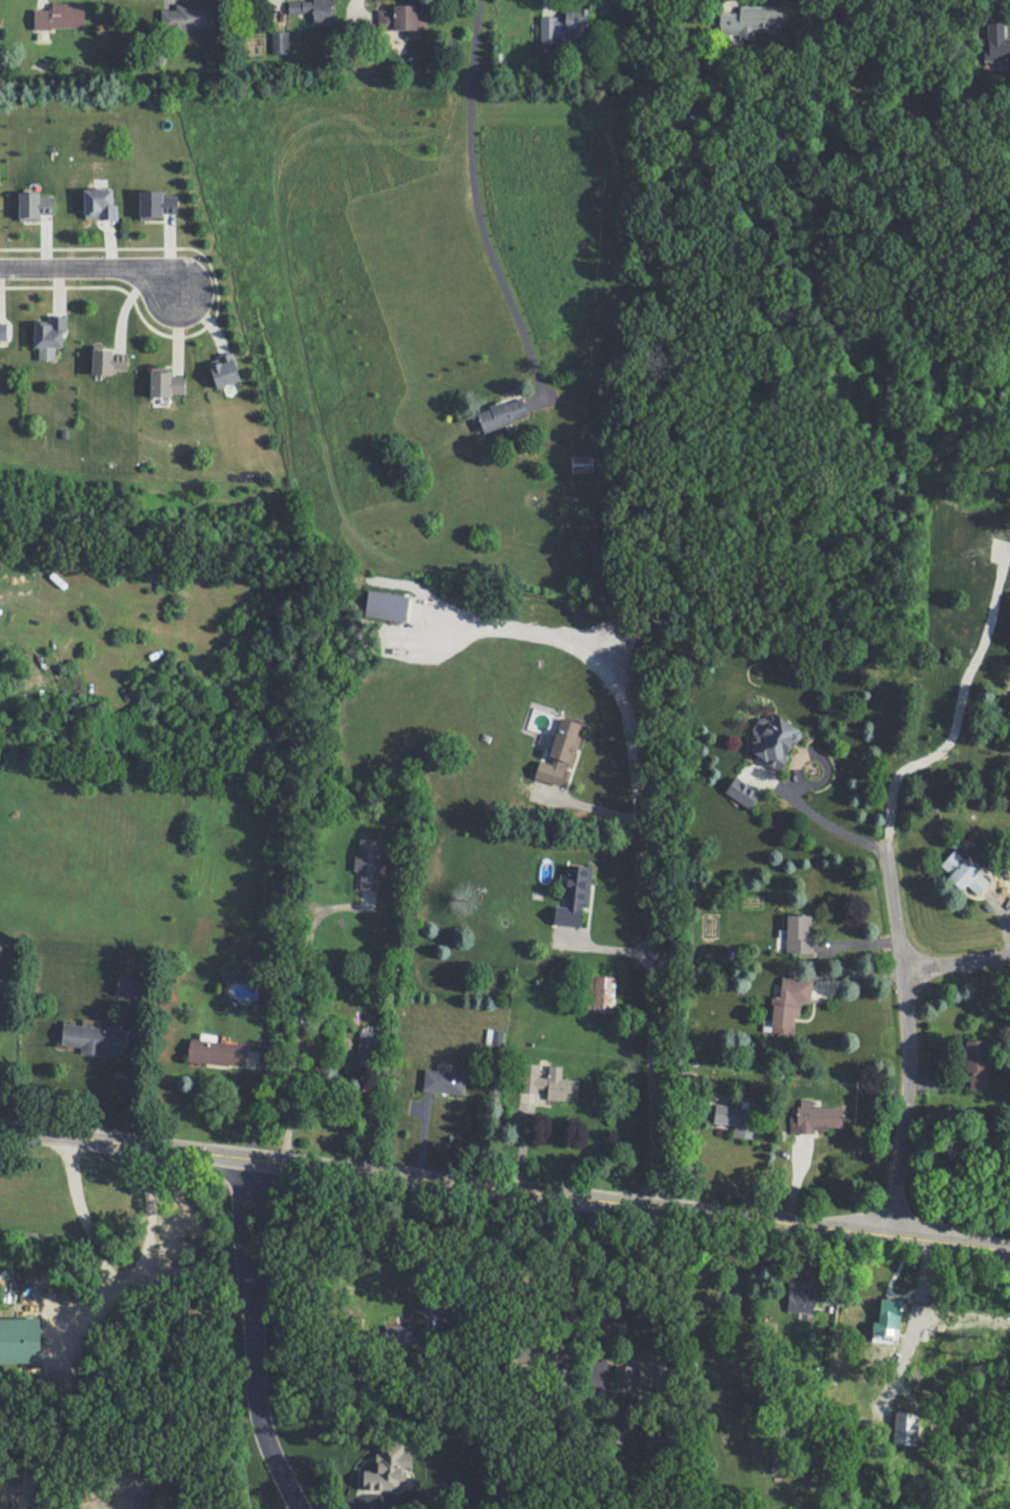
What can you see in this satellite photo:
building: (319, 11)
building: (60, 17)
building: (190, 17)
building: (407, 19)
building: (745, 19)
building: (566, 25)
building: (997, 42)
building: (280, 43)
road: (482, 192)
building: (101, 202)
road: (96, 267)
building: (4, 329)
building: (51, 335)
building: (111, 360)
building: (166, 384)
building: (504, 414)
building: (581, 463)
road: (590, 675)
building: (775, 739)
building: (560, 753)
building: (739, 794)
road: (819, 814)
building: (369, 863)
building: (965, 873)
building: (575, 895)
building: (797, 934)
road: (956, 963)
road: (650, 976)
building: (130, 984)
building: (599, 993)
building: (788, 1006)
road: (298, 1010)
road: (902, 1034)
building: (94, 1038)
building: (367, 1048)
building: (218, 1052)
building: (444, 1081)
building: (549, 1082)
building: (820, 1116)
building: (740, 1120)
road: (505, 1187)
road: (82, 1216)
road: (236, 1228)
road: (262, 1229)
road: (418, 1246)
road: (604, 1273)
road: (571, 1274)
building: (801, 1296)
road: (87, 1323)
building: (21, 1341)
building: (629, 1376)
road: (257, 1408)
building: (908, 1428)
building: (389, 1468)

